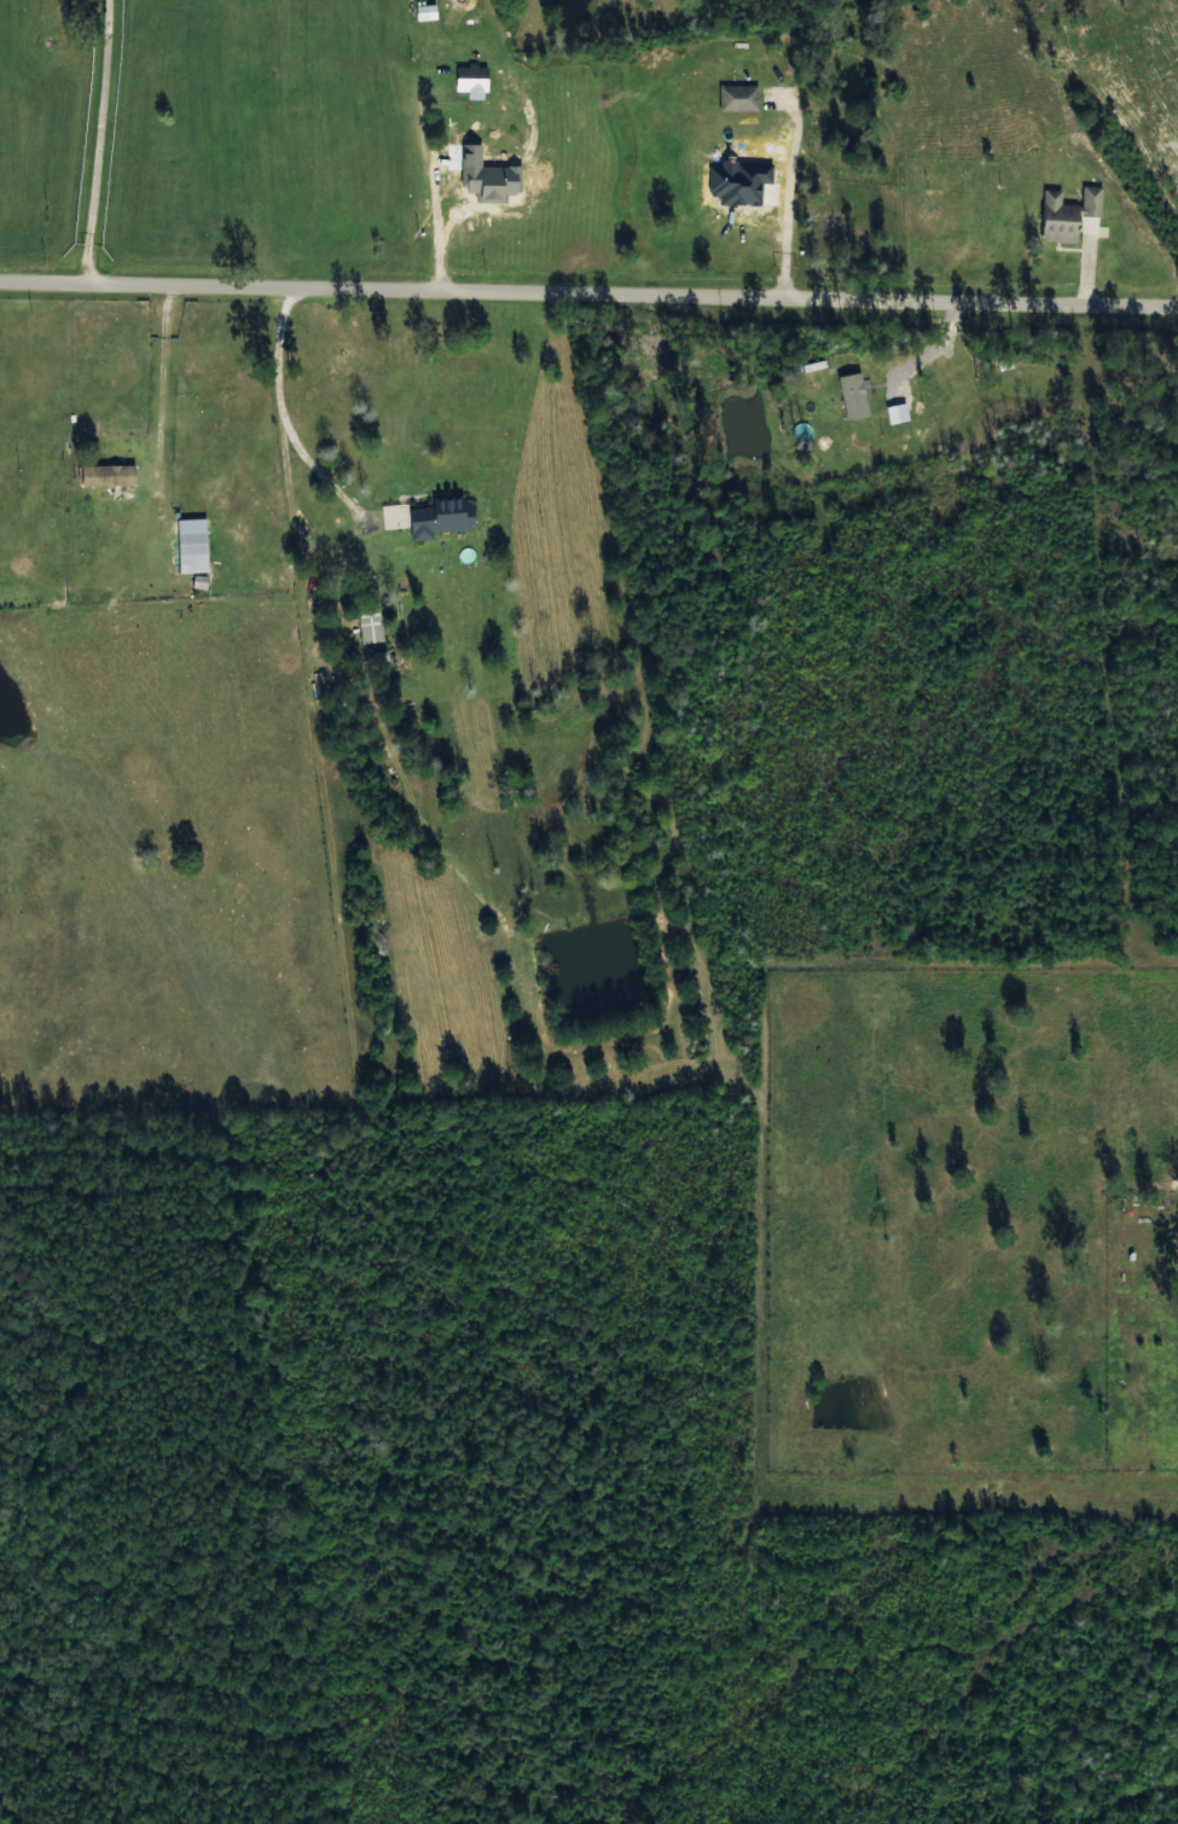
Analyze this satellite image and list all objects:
building: (425, 11)
building: (471, 80)
building: (738, 97)
building: (1092, 199)
building: (1058, 217)
road: (588, 291)
building: (853, 395)
building: (896, 412)
building: (108, 475)
building: (439, 517)
building: (192, 545)
building: (370, 622)

